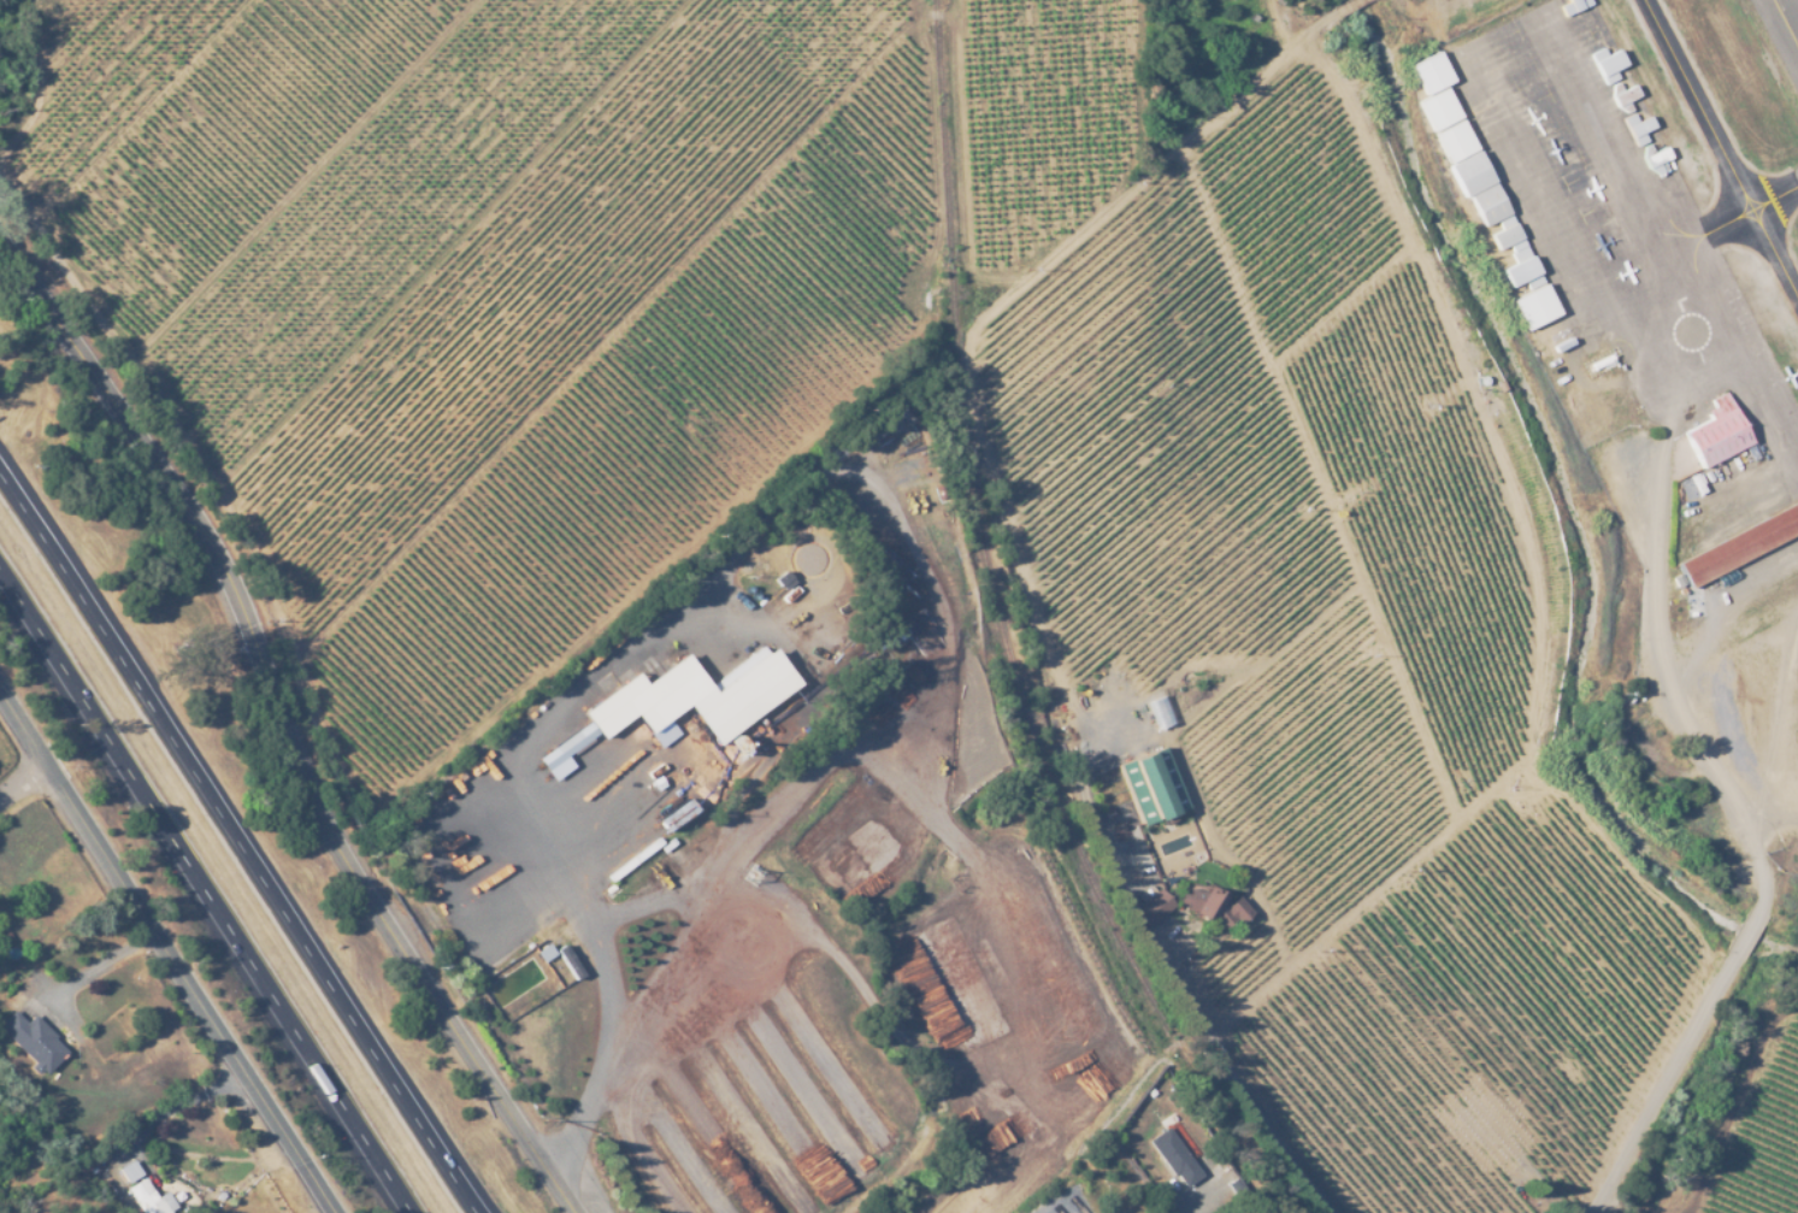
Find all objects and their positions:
airport hangar: (1572, 5)
building: (1572, 5)
airport runway: (1791, 12)
airport hangar: (1605, 63)
building: (1605, 63)
airport hangar: (1428, 71)
building: (1428, 71)
road: (35, 83)
airport hangar: (1622, 95)
building: (1622, 95)
airport hangar: (1437, 108)
building: (1437, 108)
airport hangar: (1637, 126)
building: (1637, 126)
airport hangar: (1452, 140)
building: (1452, 140)
airport taxiway: (1721, 146)
airport hangar: (1653, 157)
building: (1653, 157)
airport hangar: (1468, 171)
building: (1468, 171)
airport hangar: (1486, 202)
building: (1486, 202)
airport taxiway: (1747, 220)
airport hangar: (1505, 234)
building: (1505, 234)
airport apron: (1623, 240)
airport hangar: (1520, 269)
building: (1520, 269)
airport hangar: (1533, 305)
building: (1533, 305)
building: (1600, 360)
storage tank: (1600, 360)
airport: (1638, 373)
airport hangar: (1716, 431)
building: (1716, 431)
airport hangar: (1740, 543)
building: (1740, 543)
airport apron: (1755, 573)
railway: (1007, 641)
road: (1663, 660)
building: (694, 695)
road: (283, 725)
building: (565, 746)
building: (1643, 752)
building: (1150, 785)
road: (25, 787)
road: (242, 837)
road: (1768, 883)
road: (205, 890)
building: (1213, 906)
building: (1151, 907)
road: (1750, 936)
road: (165, 952)
road: (1271, 979)
road: (633, 1026)
building: (31, 1040)
road: (1669, 1087)
road: (173, 1100)
building: (1173, 1158)
building: (129, 1171)
road: (1066, 1171)
building: (151, 1199)
road: (1212, 1207)

